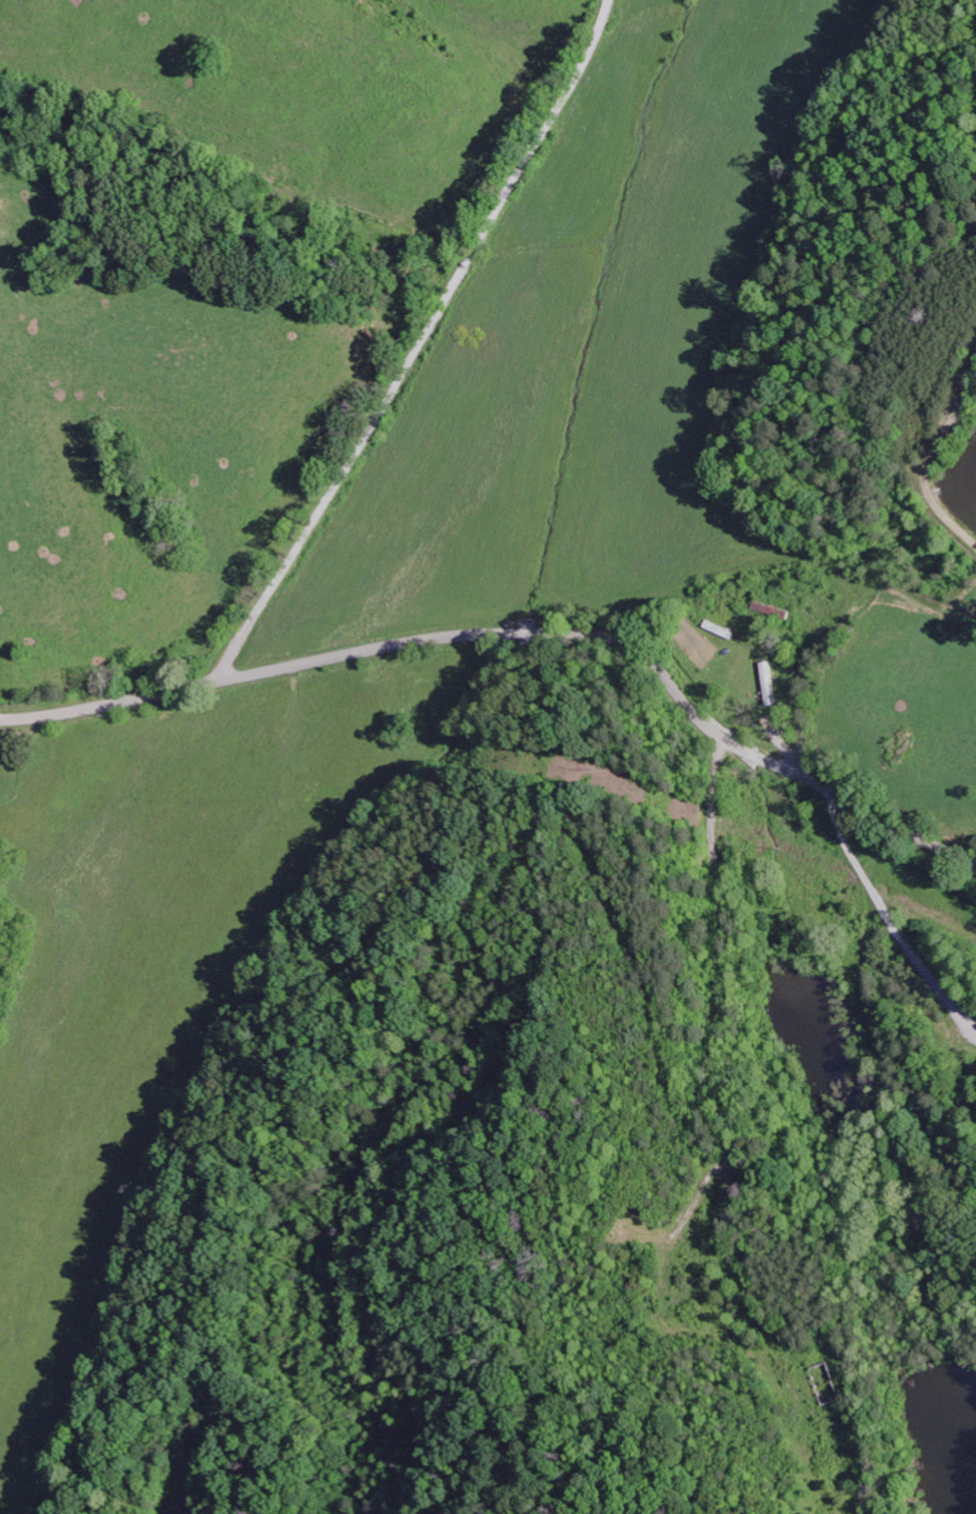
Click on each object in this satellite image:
road: (418, 344)
building: (772, 610)
road: (519, 630)

